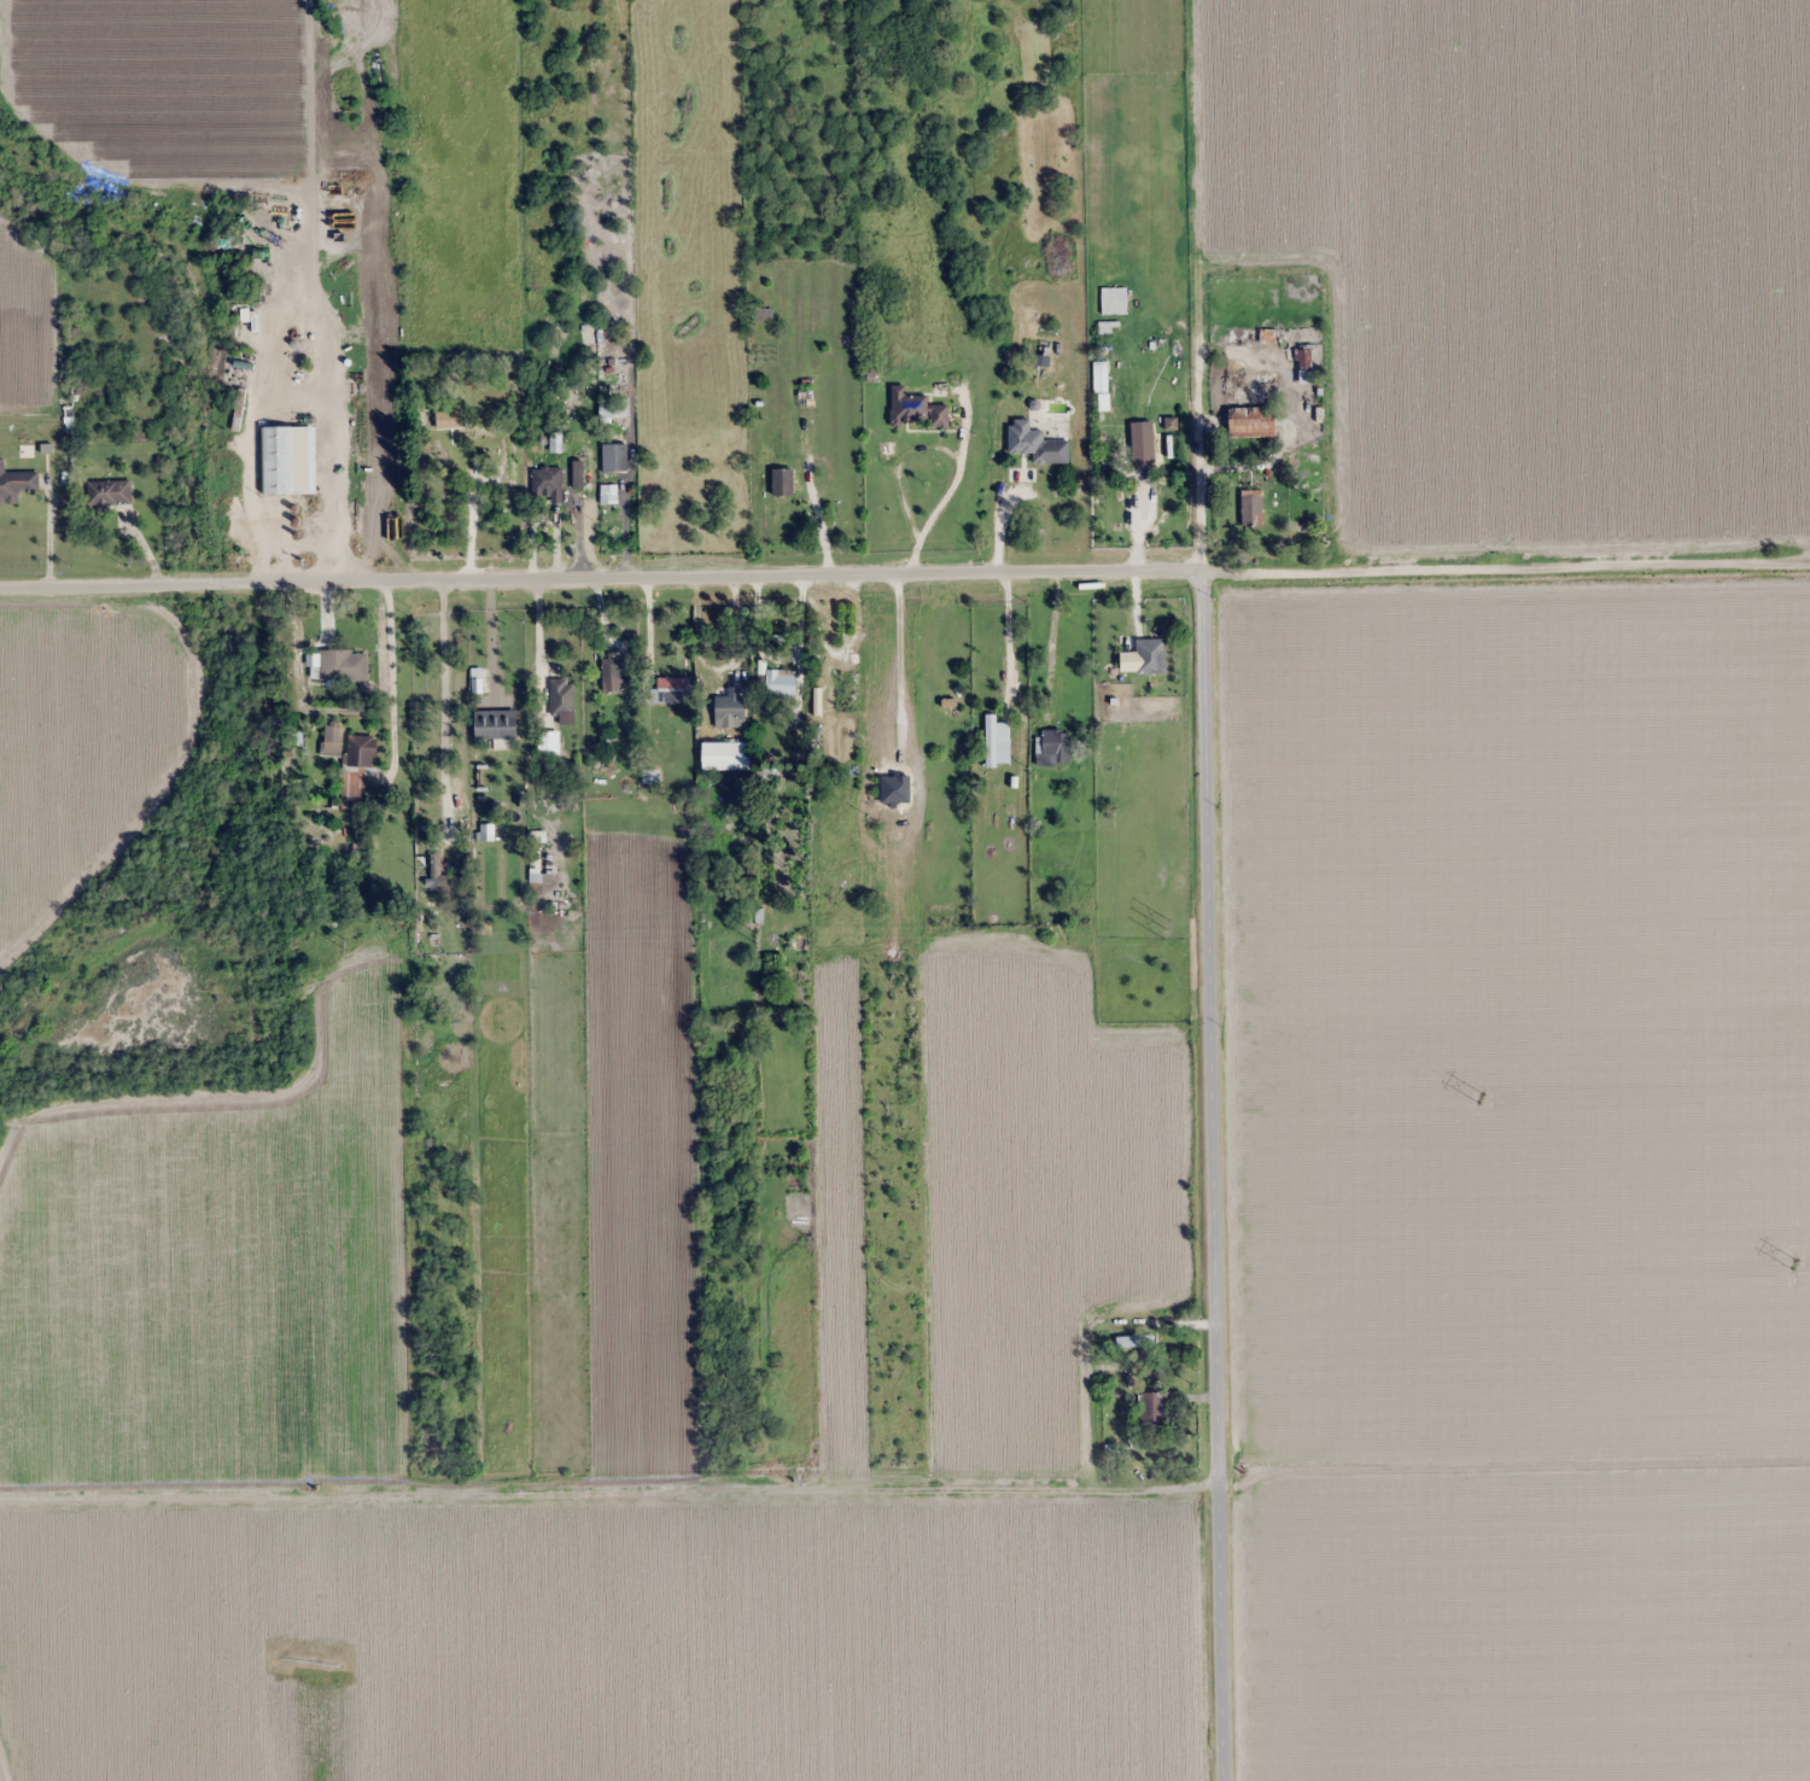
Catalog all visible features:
building: (761, 313)
building: (1304, 360)
building: (917, 410)
building: (1251, 421)
building: (1143, 442)
building: (555, 444)
building: (290, 460)
building: (510, 460)
building: (600, 463)
building: (783, 481)
building: (16, 483)
building: (548, 483)
building: (110, 492)
building: (1254, 510)
road: (1507, 555)
road: (602, 560)
building: (1151, 656)
building: (344, 666)
building: (615, 673)
building: (777, 682)
building: (847, 690)
building: (670, 695)
building: (562, 696)
building: (731, 705)
building: (496, 724)
building: (332, 741)
building: (997, 742)
building: (1053, 747)
building: (726, 755)
building: (357, 771)
building: (434, 872)
power tower: (1166, 927)
power tower: (754, 936)
power tower: (345, 942)
power tower: (1481, 1096)
road: (1213, 1169)
power tower: (1793, 1263)
building: (1154, 1408)

